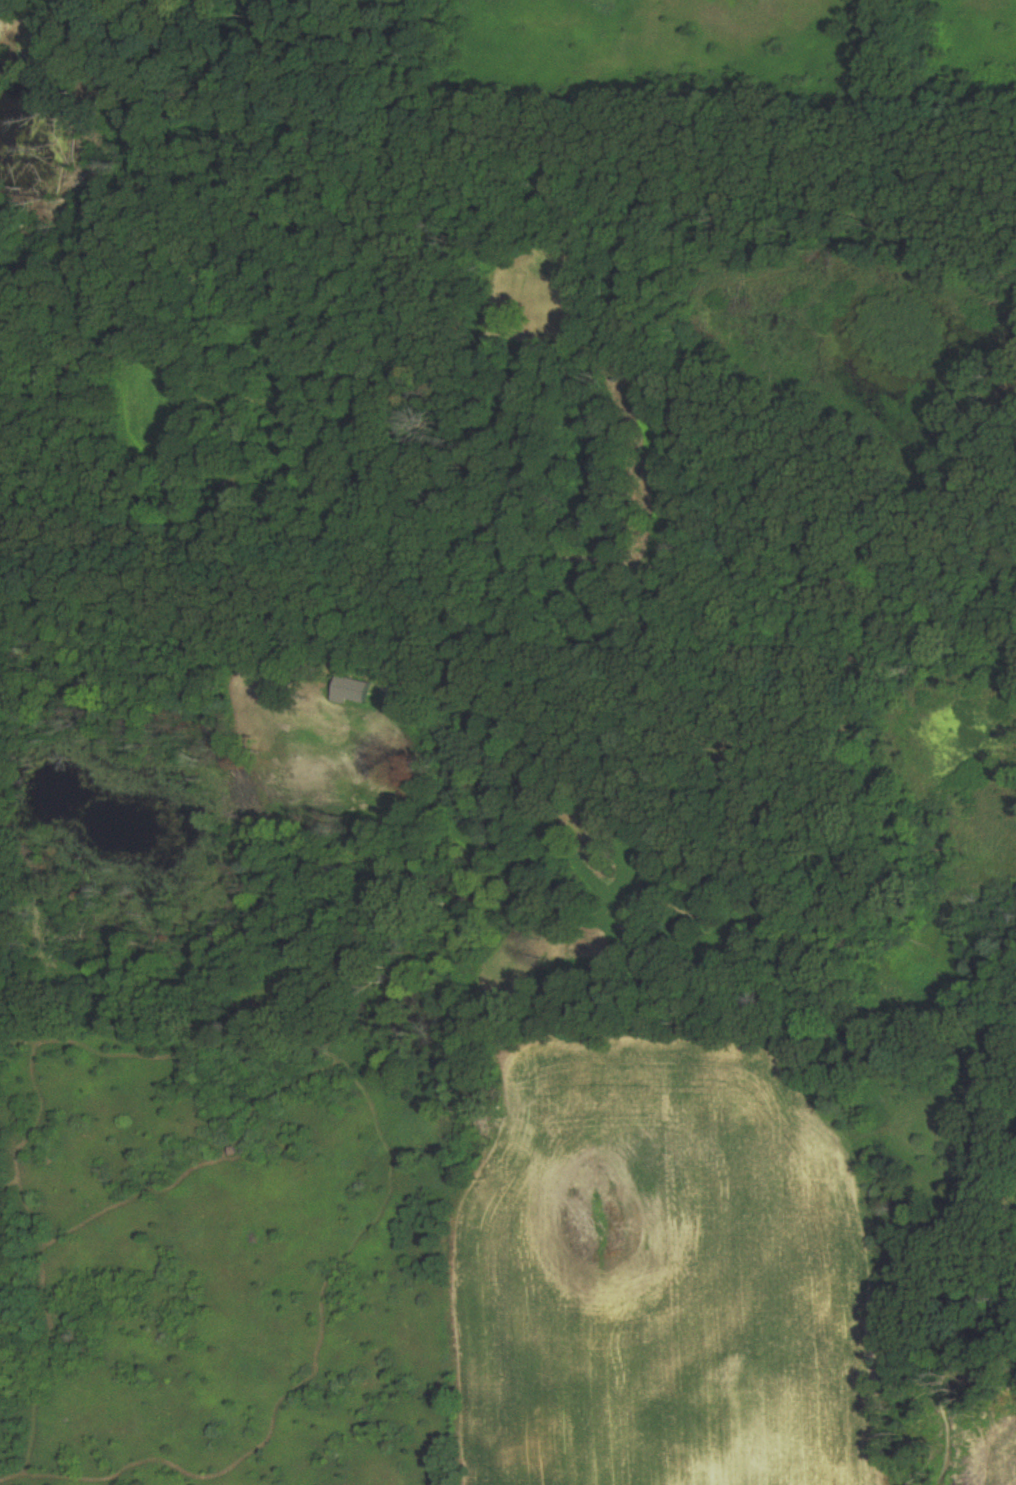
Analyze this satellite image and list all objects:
building: (351, 693)

